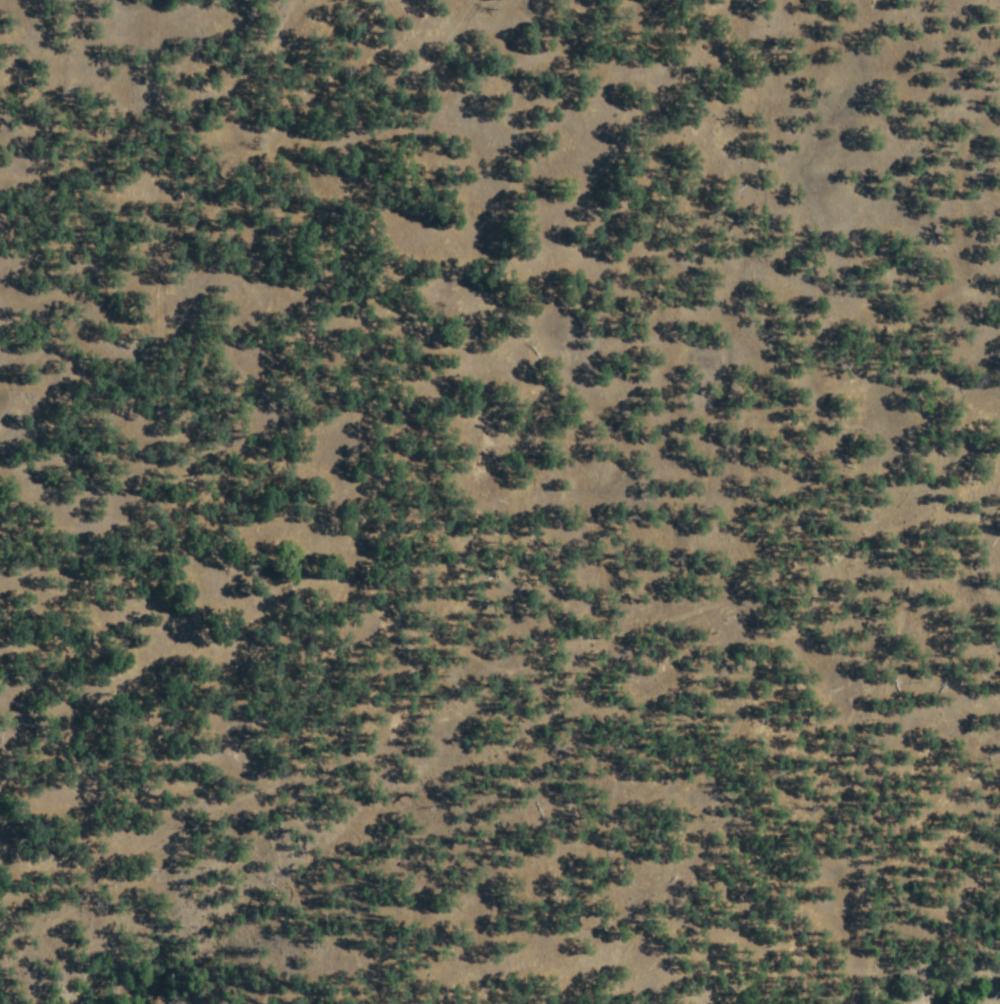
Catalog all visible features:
road: (754, 586)
road: (240, 794)

